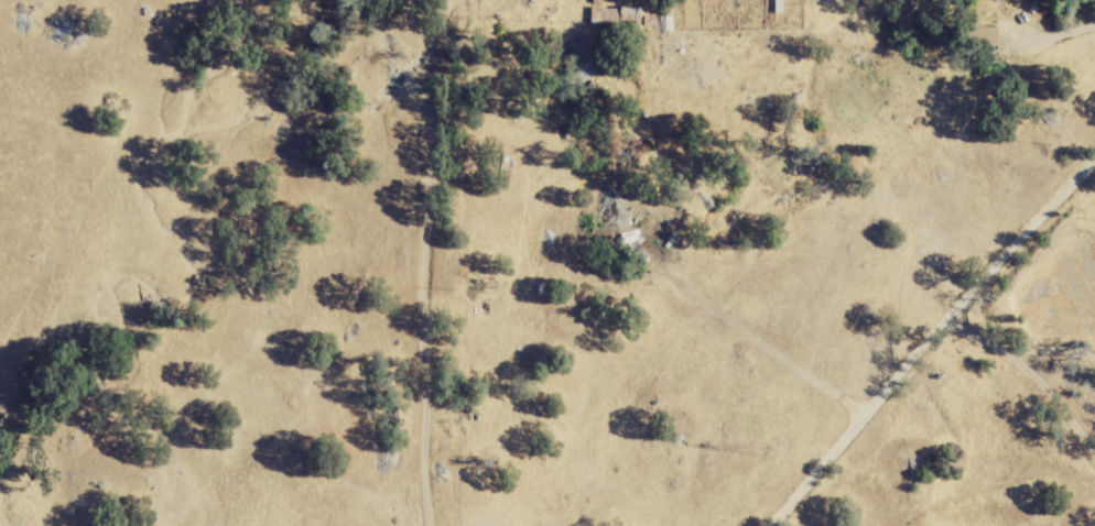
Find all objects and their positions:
road: (1059, 33)
road: (924, 338)
road: (1027, 373)
power tower: (774, 446)

